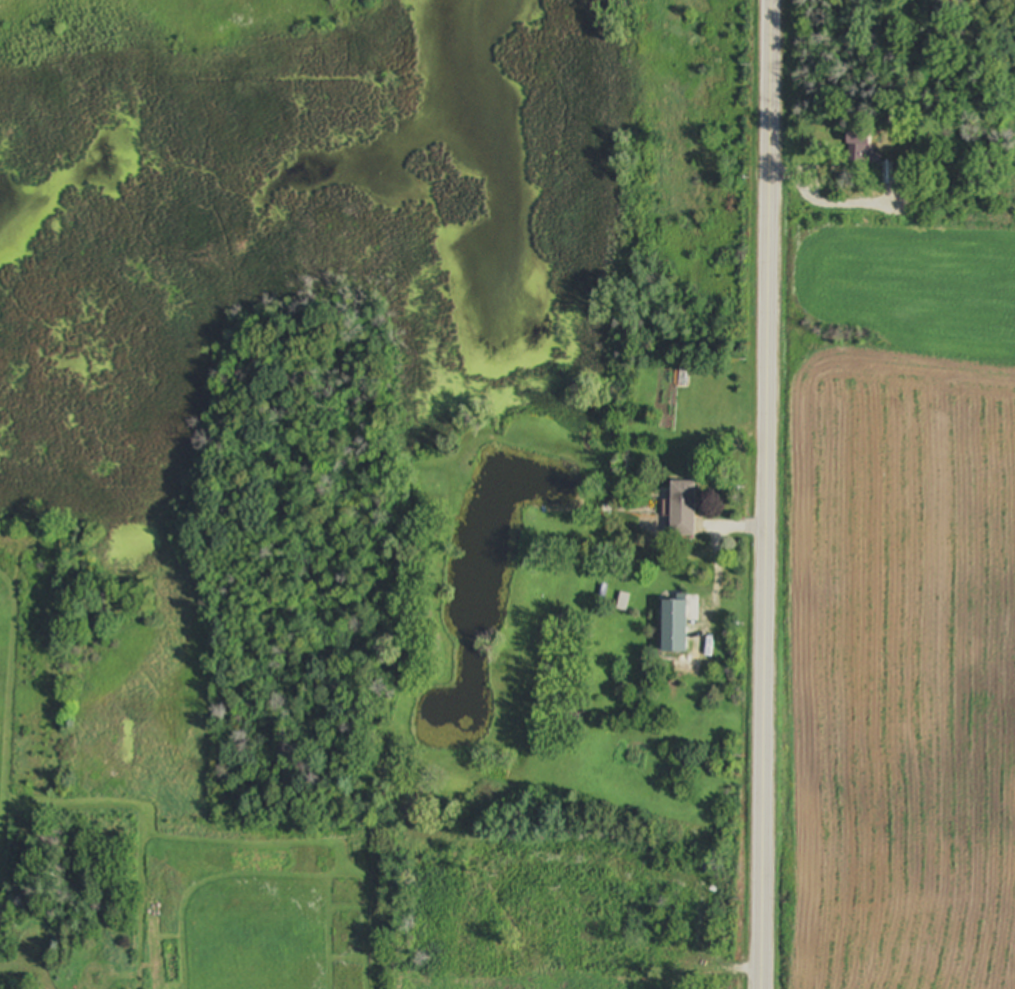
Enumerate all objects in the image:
building: (861, 146)
road: (770, 494)
building: (684, 510)

